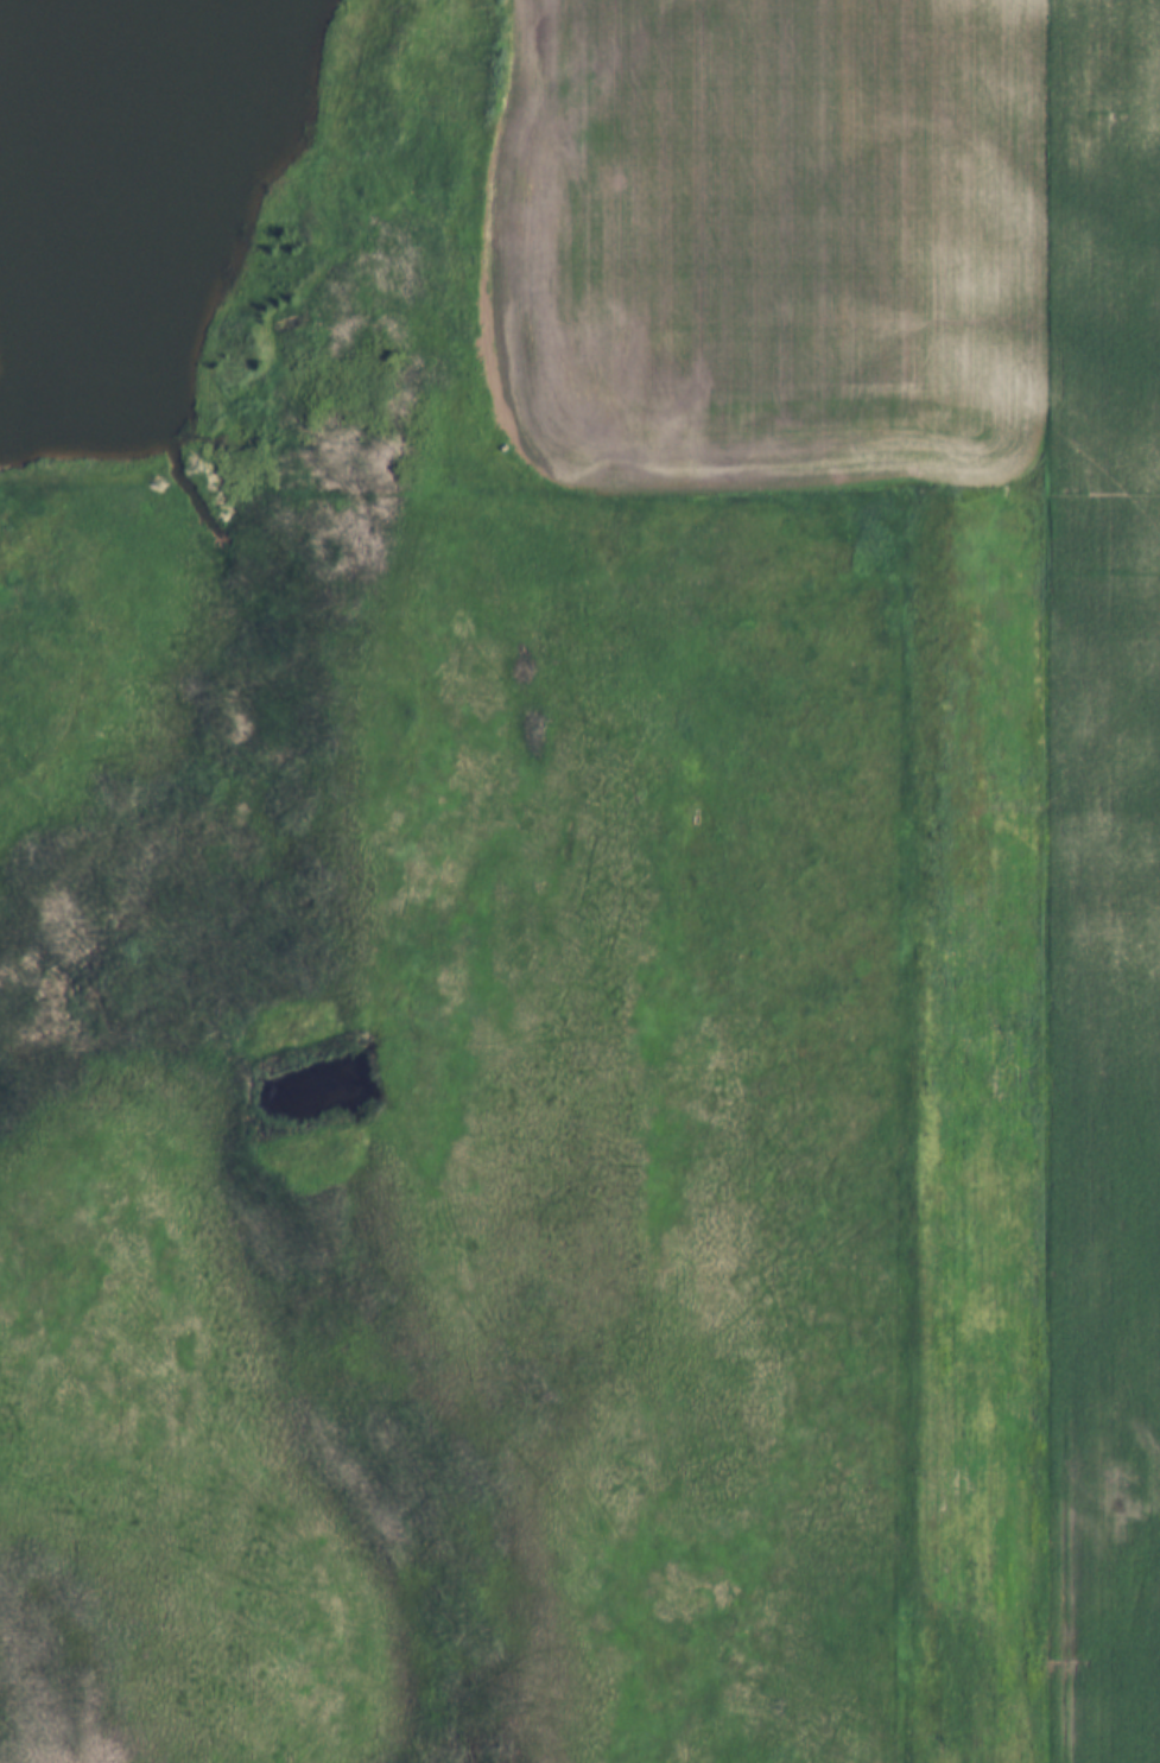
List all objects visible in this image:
quarry: (189, 209)

